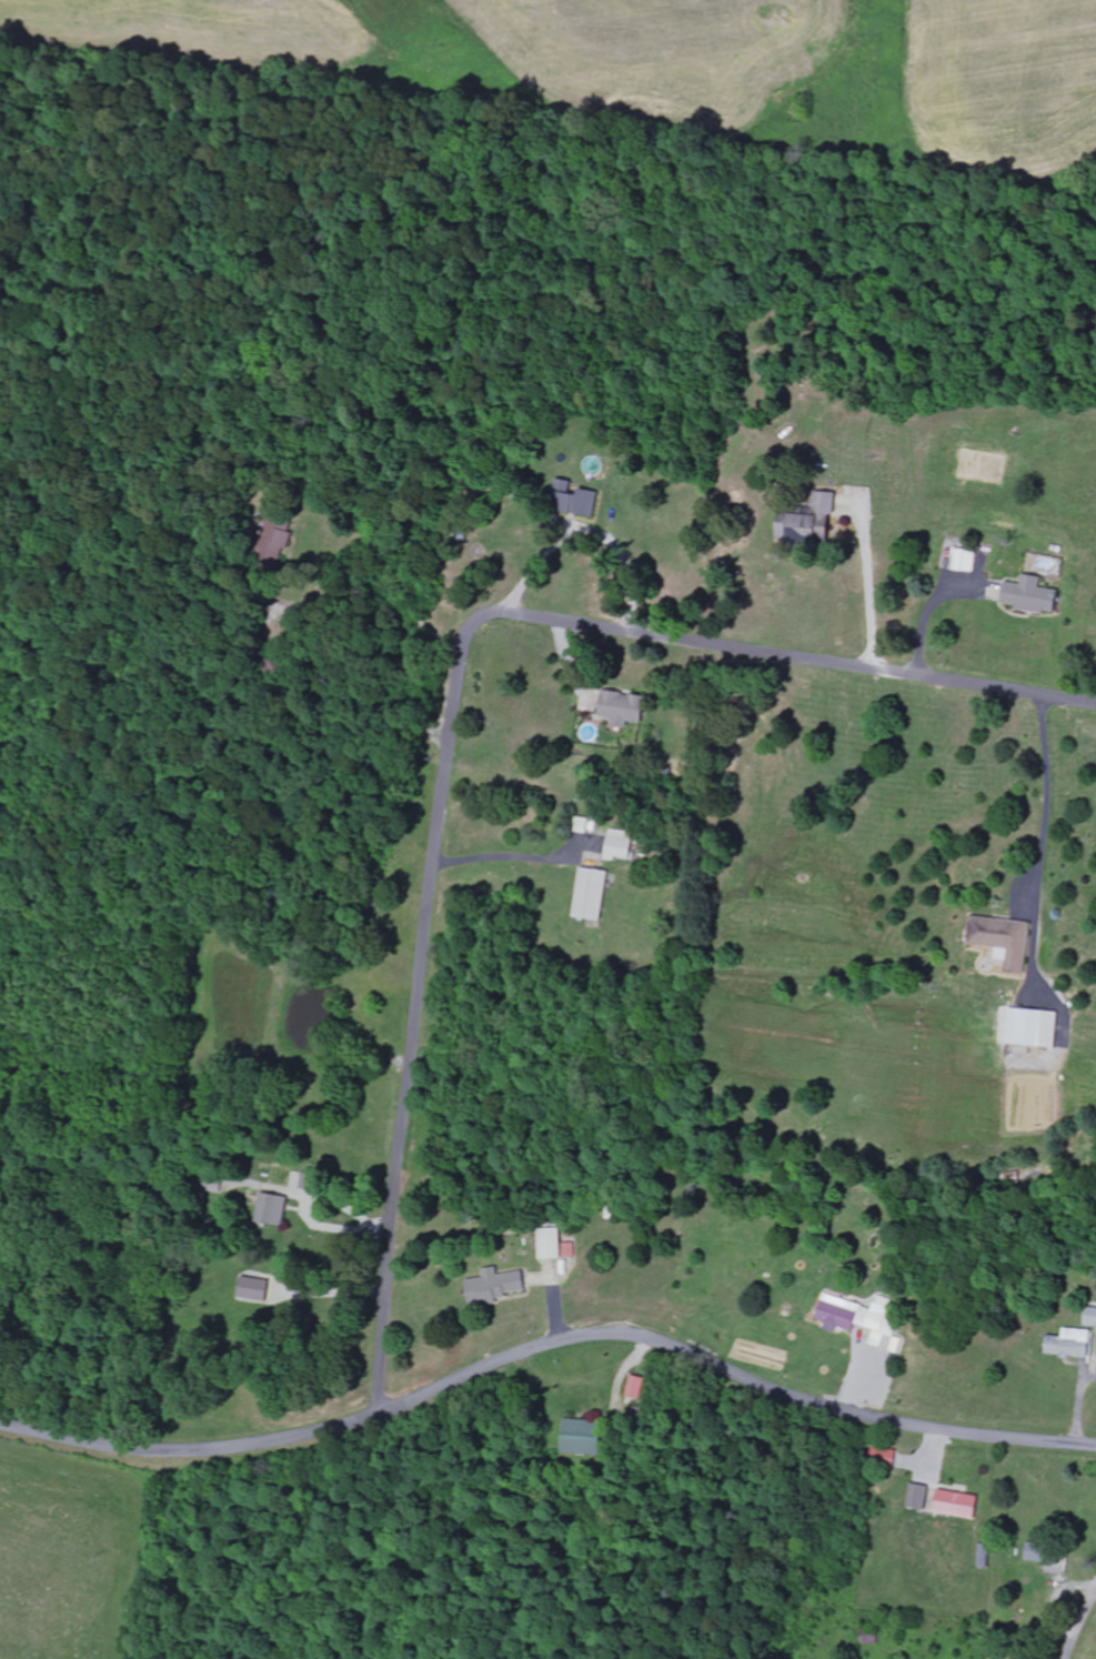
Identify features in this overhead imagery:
building: (575, 500)
building: (812, 520)
building: (278, 535)
building: (967, 561)
road: (871, 580)
road: (419, 593)
building: (1034, 596)
road: (456, 708)
building: (625, 708)
road: (1044, 804)
building: (621, 846)
building: (594, 895)
building: (1005, 941)
building: (1034, 1027)
building: (274, 1209)
building: (557, 1245)
building: (497, 1286)
building: (263, 1290)
building: (1092, 1316)
building: (862, 1318)
building: (1074, 1344)
road: (545, 1346)
building: (640, 1387)
building: (587, 1437)
building: (887, 1456)
building: (922, 1497)
building: (961, 1504)
building: (1046, 1554)
building: (986, 1556)
road: (1083, 1629)

